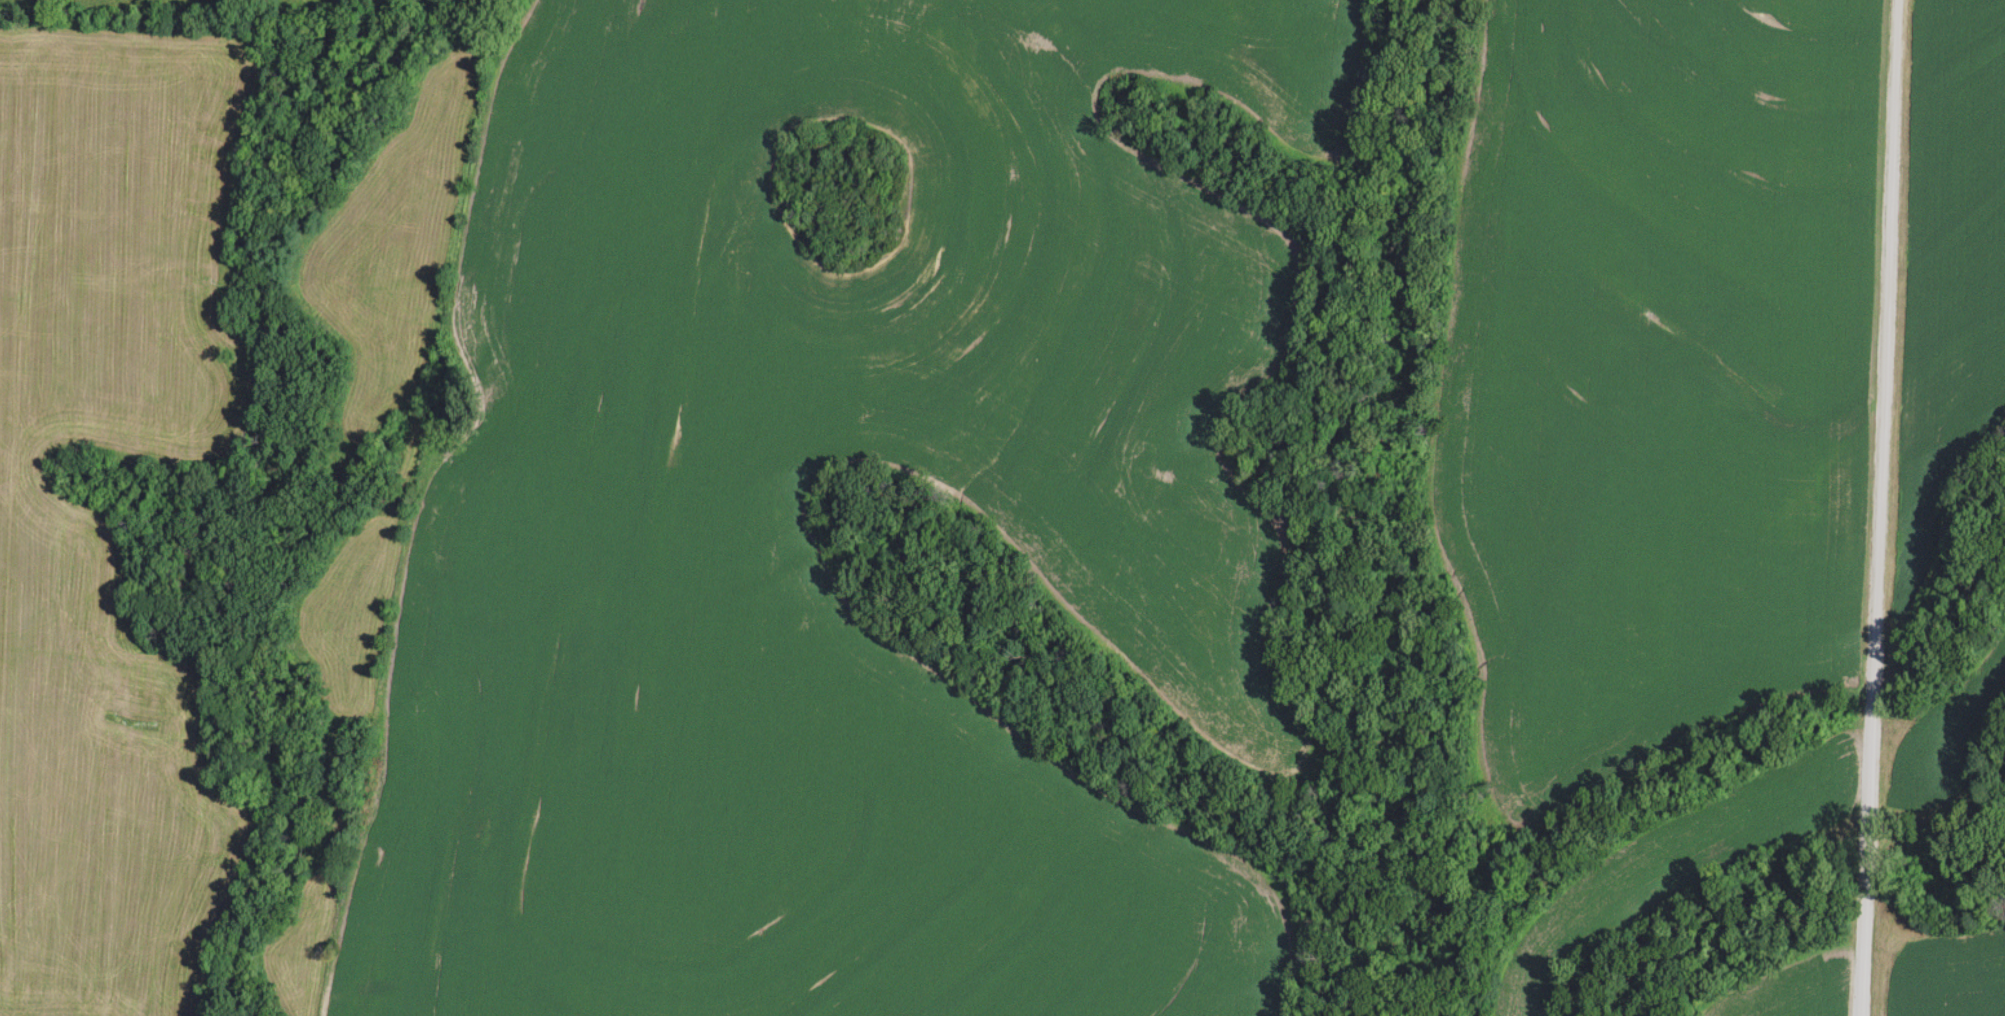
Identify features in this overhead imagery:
road: (1875, 508)

